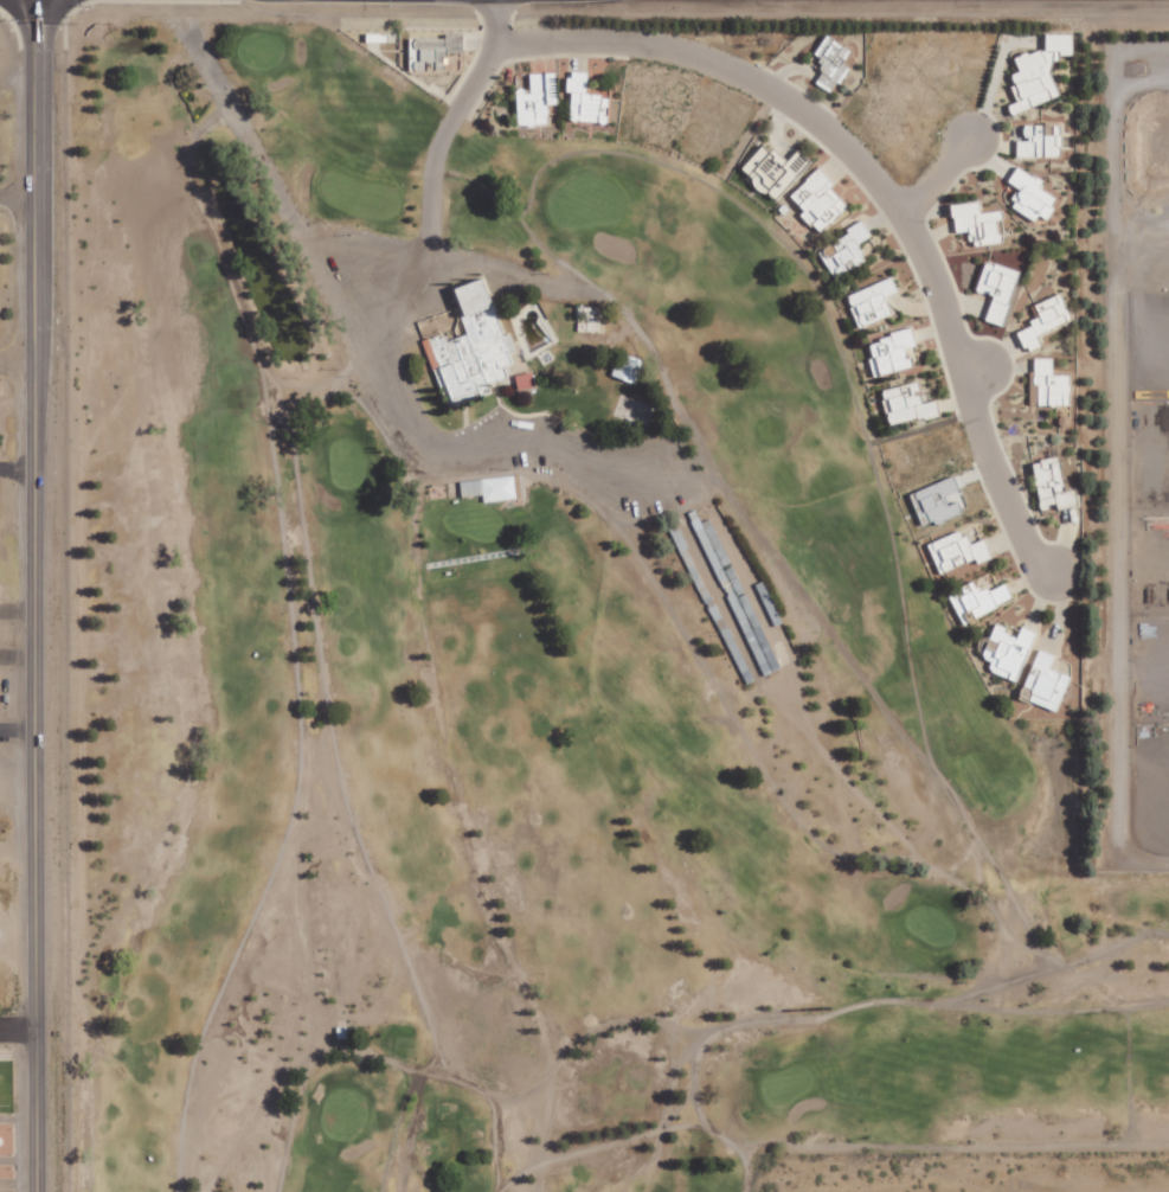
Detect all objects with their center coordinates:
building: (433, 50)
building: (833, 62)
building: (1040, 71)
building: (574, 92)
building: (538, 98)
road: (450, 115)
building: (1041, 141)
building: (776, 168)
road: (878, 182)
building: (1033, 194)
building: (821, 200)
building: (979, 223)
building: (846, 250)
building: (1000, 289)
building: (873, 301)
building: (587, 312)
building: (1046, 320)
building: (473, 347)
building: (893, 352)
building: (629, 367)
building: (526, 379)
building: (1052, 383)
building: (908, 403)
building: (1054, 483)
building: (938, 501)
building: (958, 551)
road: (34, 595)
building: (983, 597)
railway: (63, 610)
building: (1009, 651)
park: (526, 679)
building: (1046, 682)
road: (19, 1028)

